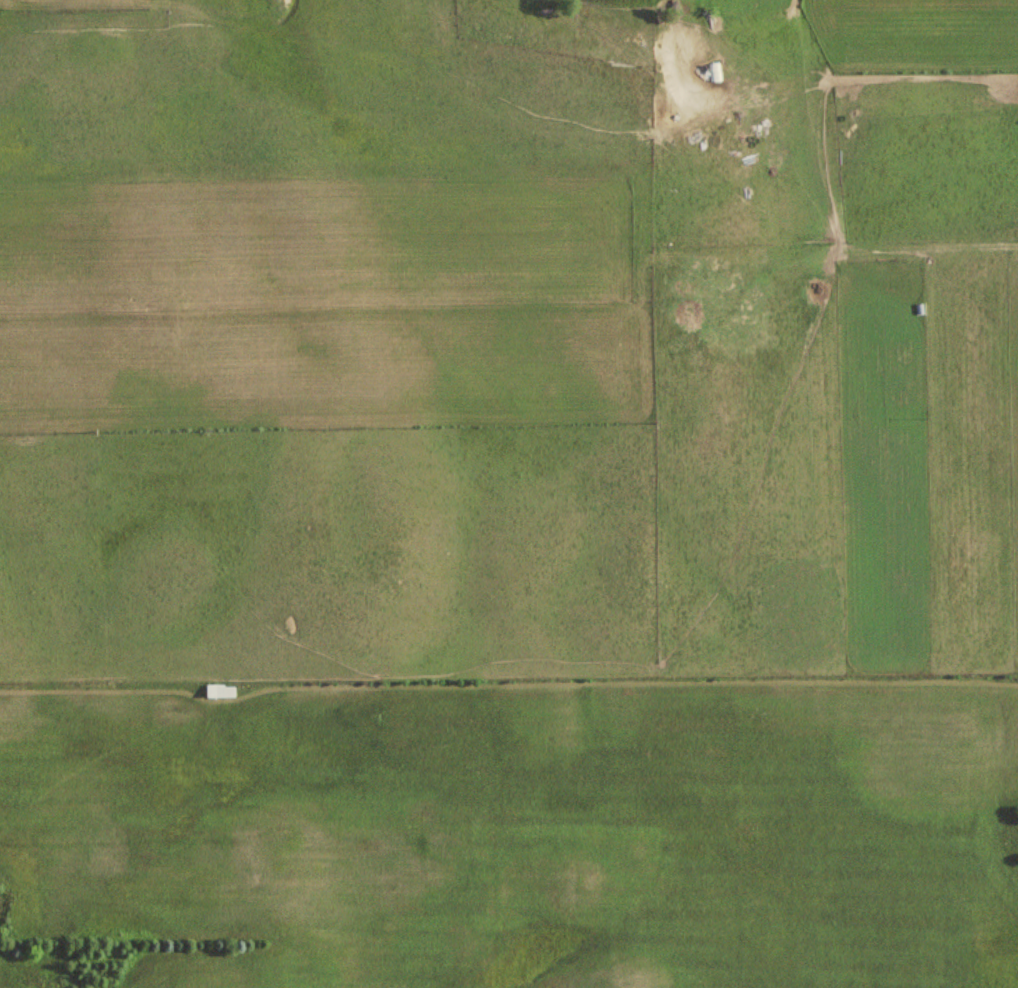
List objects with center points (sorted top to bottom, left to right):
building: (223, 689)

